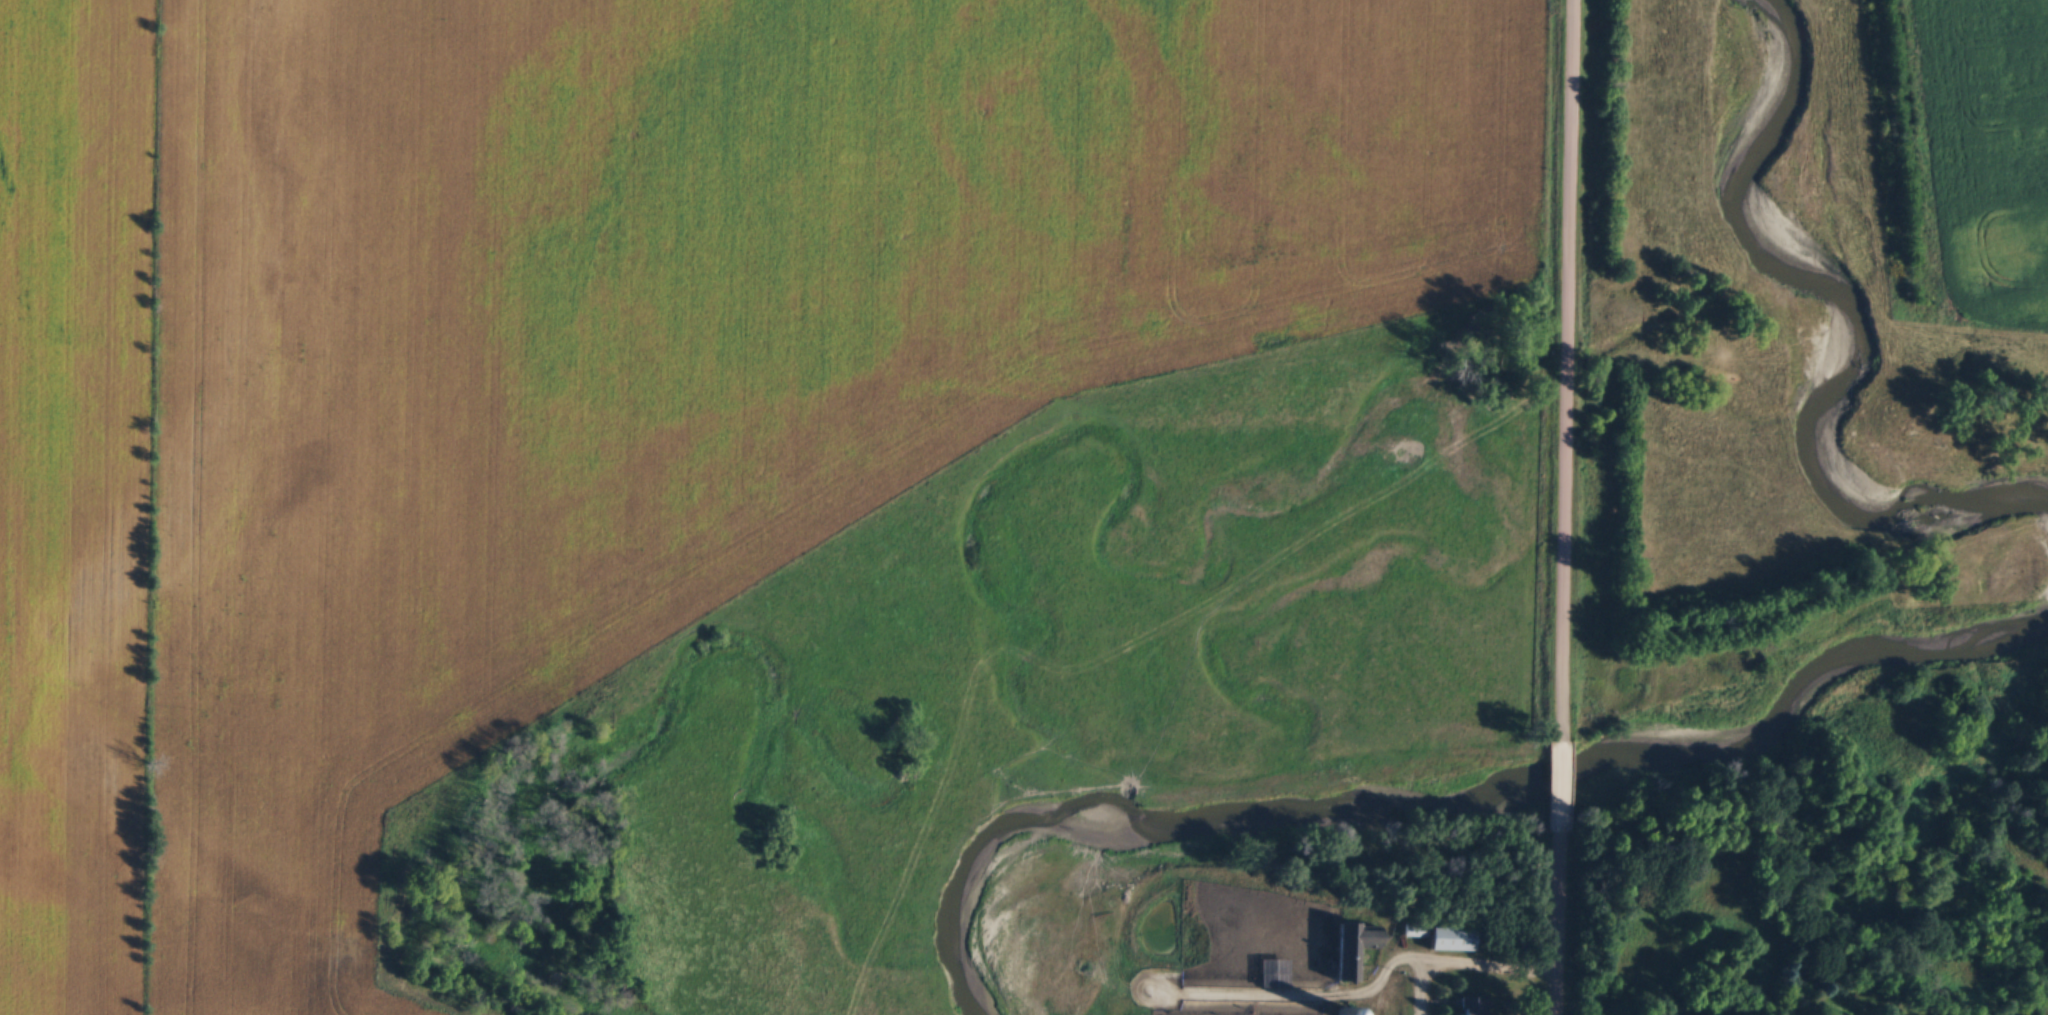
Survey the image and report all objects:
crop: (684, 341)
road: (1565, 370)
crop: (75, 499)
road: (1561, 787)
building: (1243, 917)
road: (1559, 924)
building: (1353, 940)
building: (1448, 940)
road: (1473, 967)
building: (1469, 1007)

